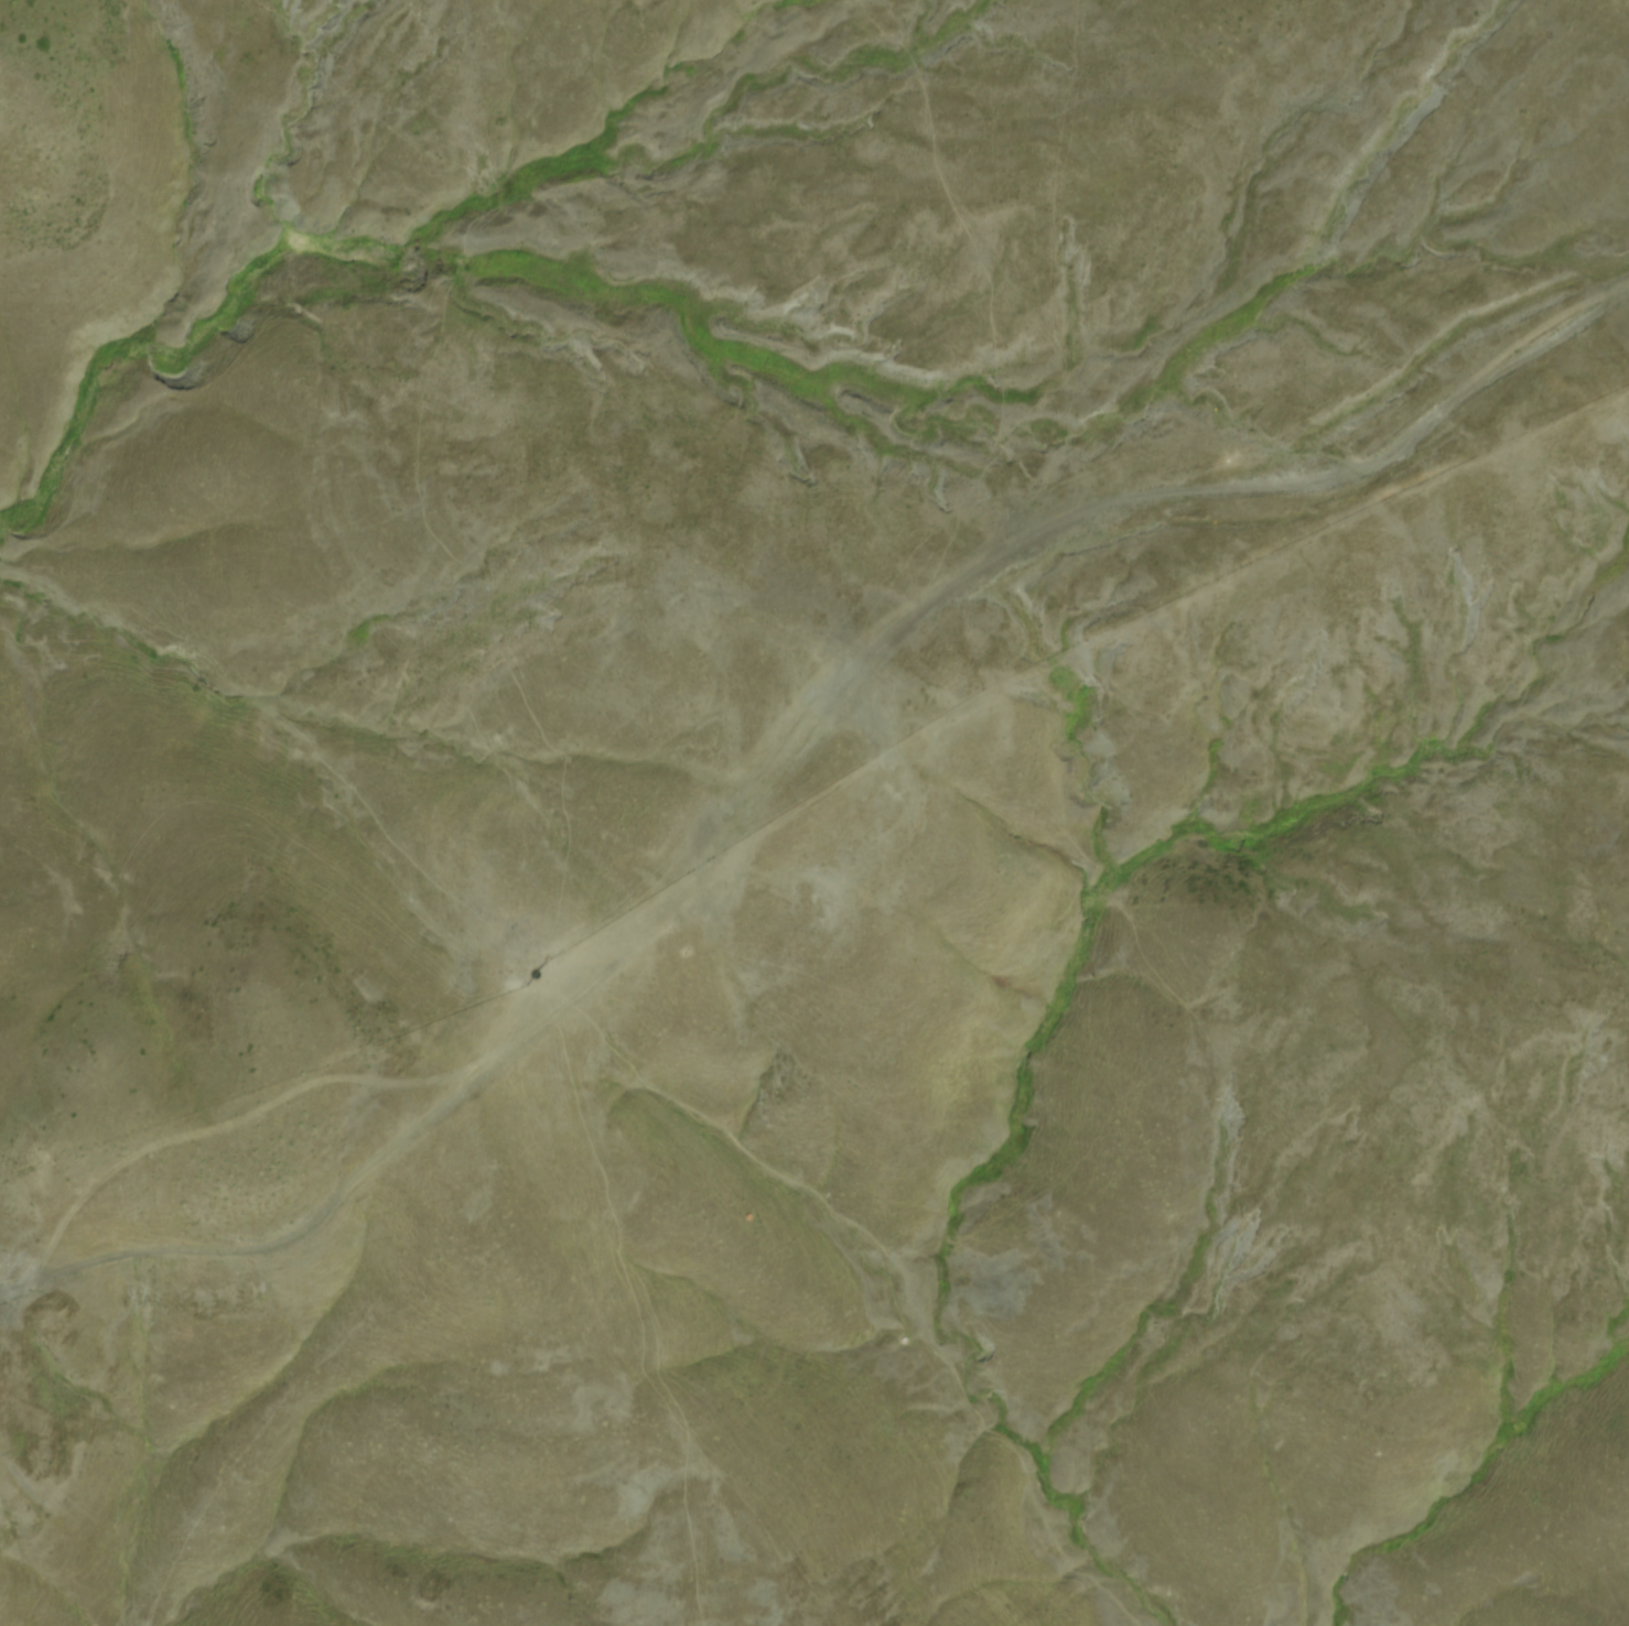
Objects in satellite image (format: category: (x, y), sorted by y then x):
road: (785, 734)

